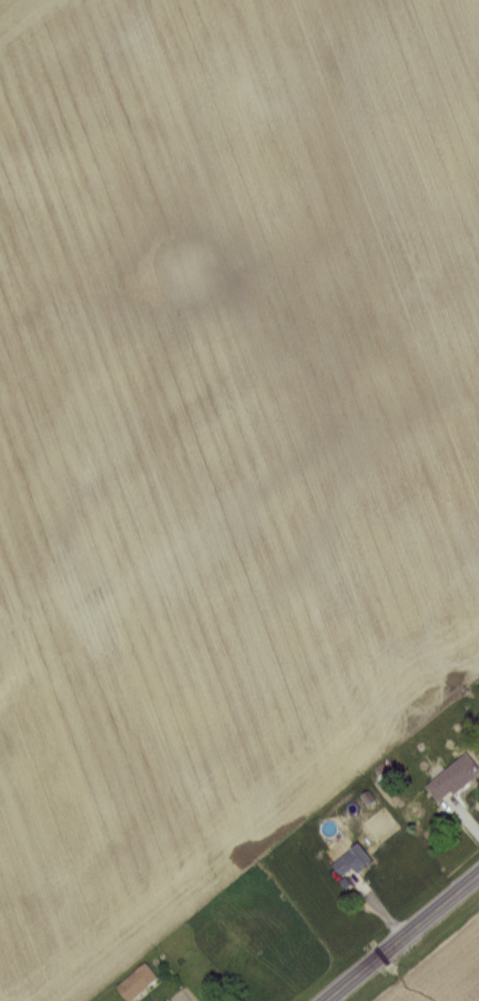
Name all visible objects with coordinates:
building: (458, 778)
building: (359, 860)
road: (402, 936)

